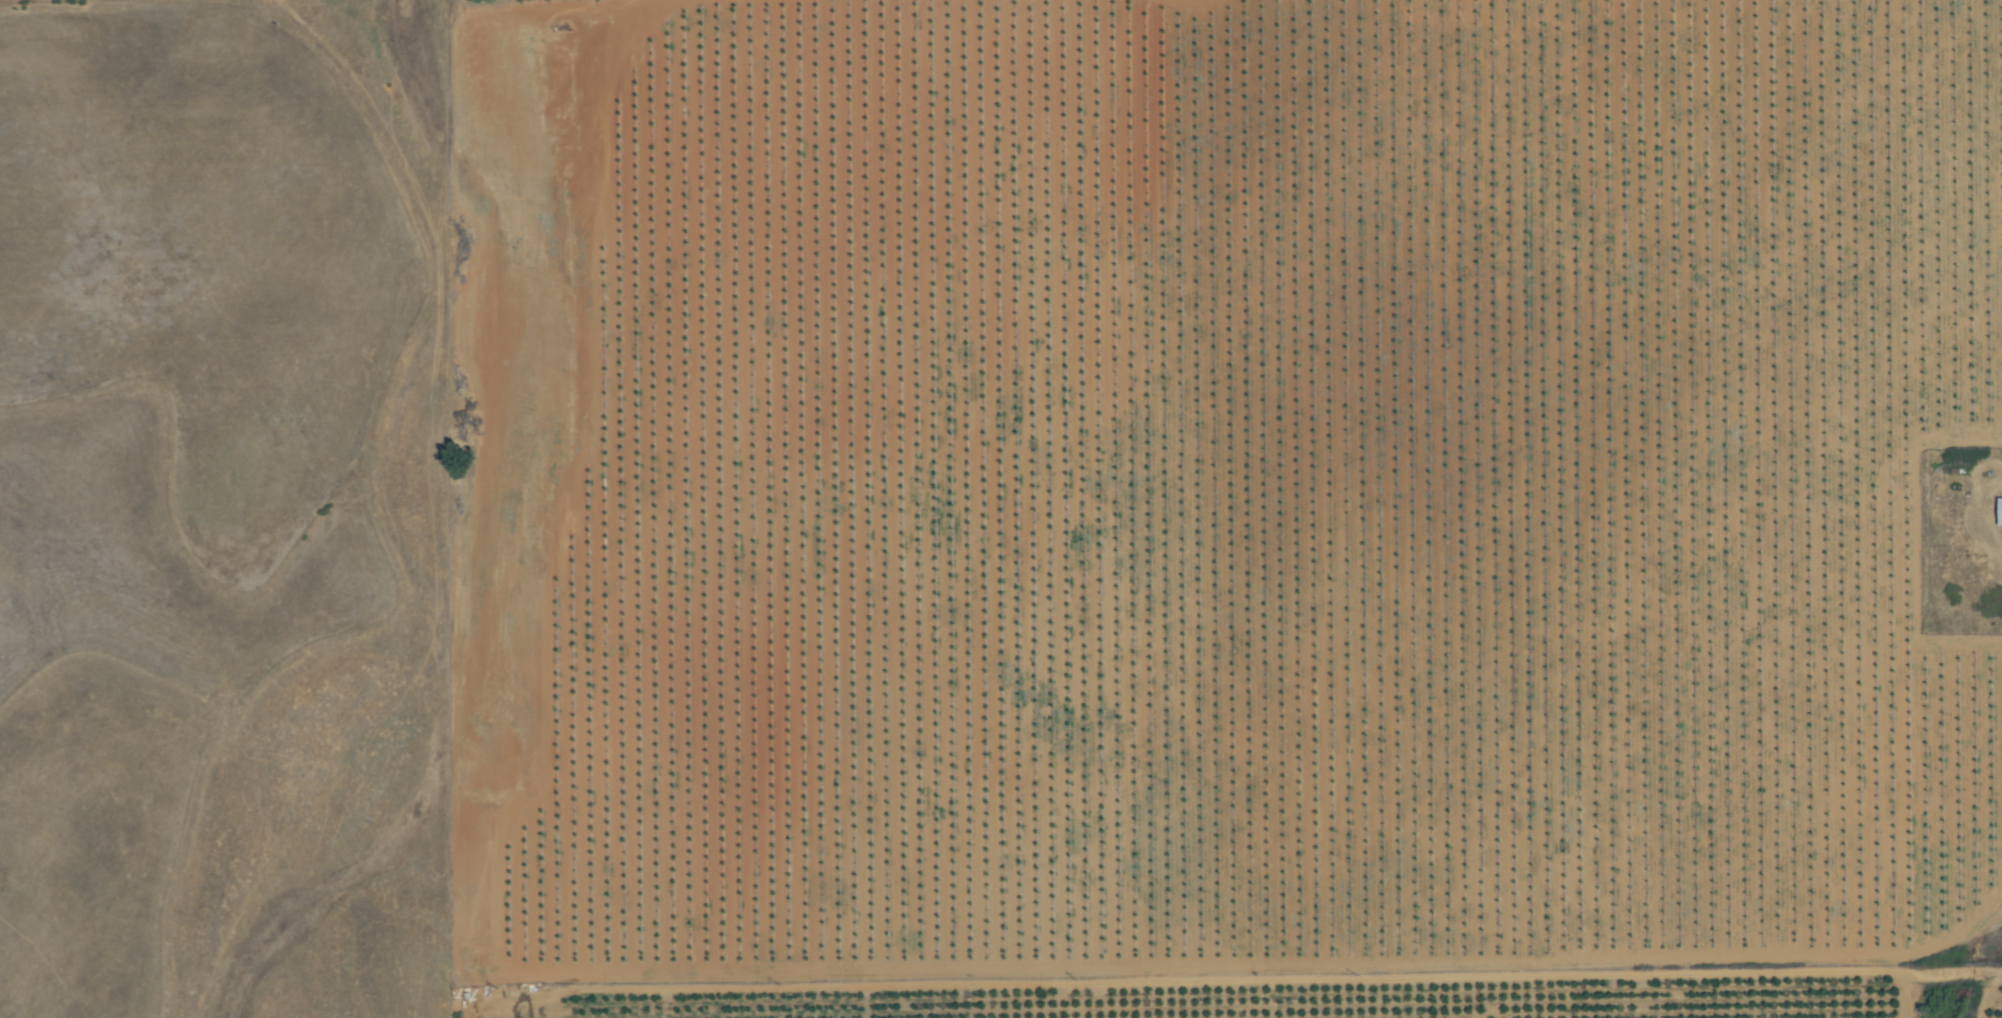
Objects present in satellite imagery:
building: (2001, 511)

